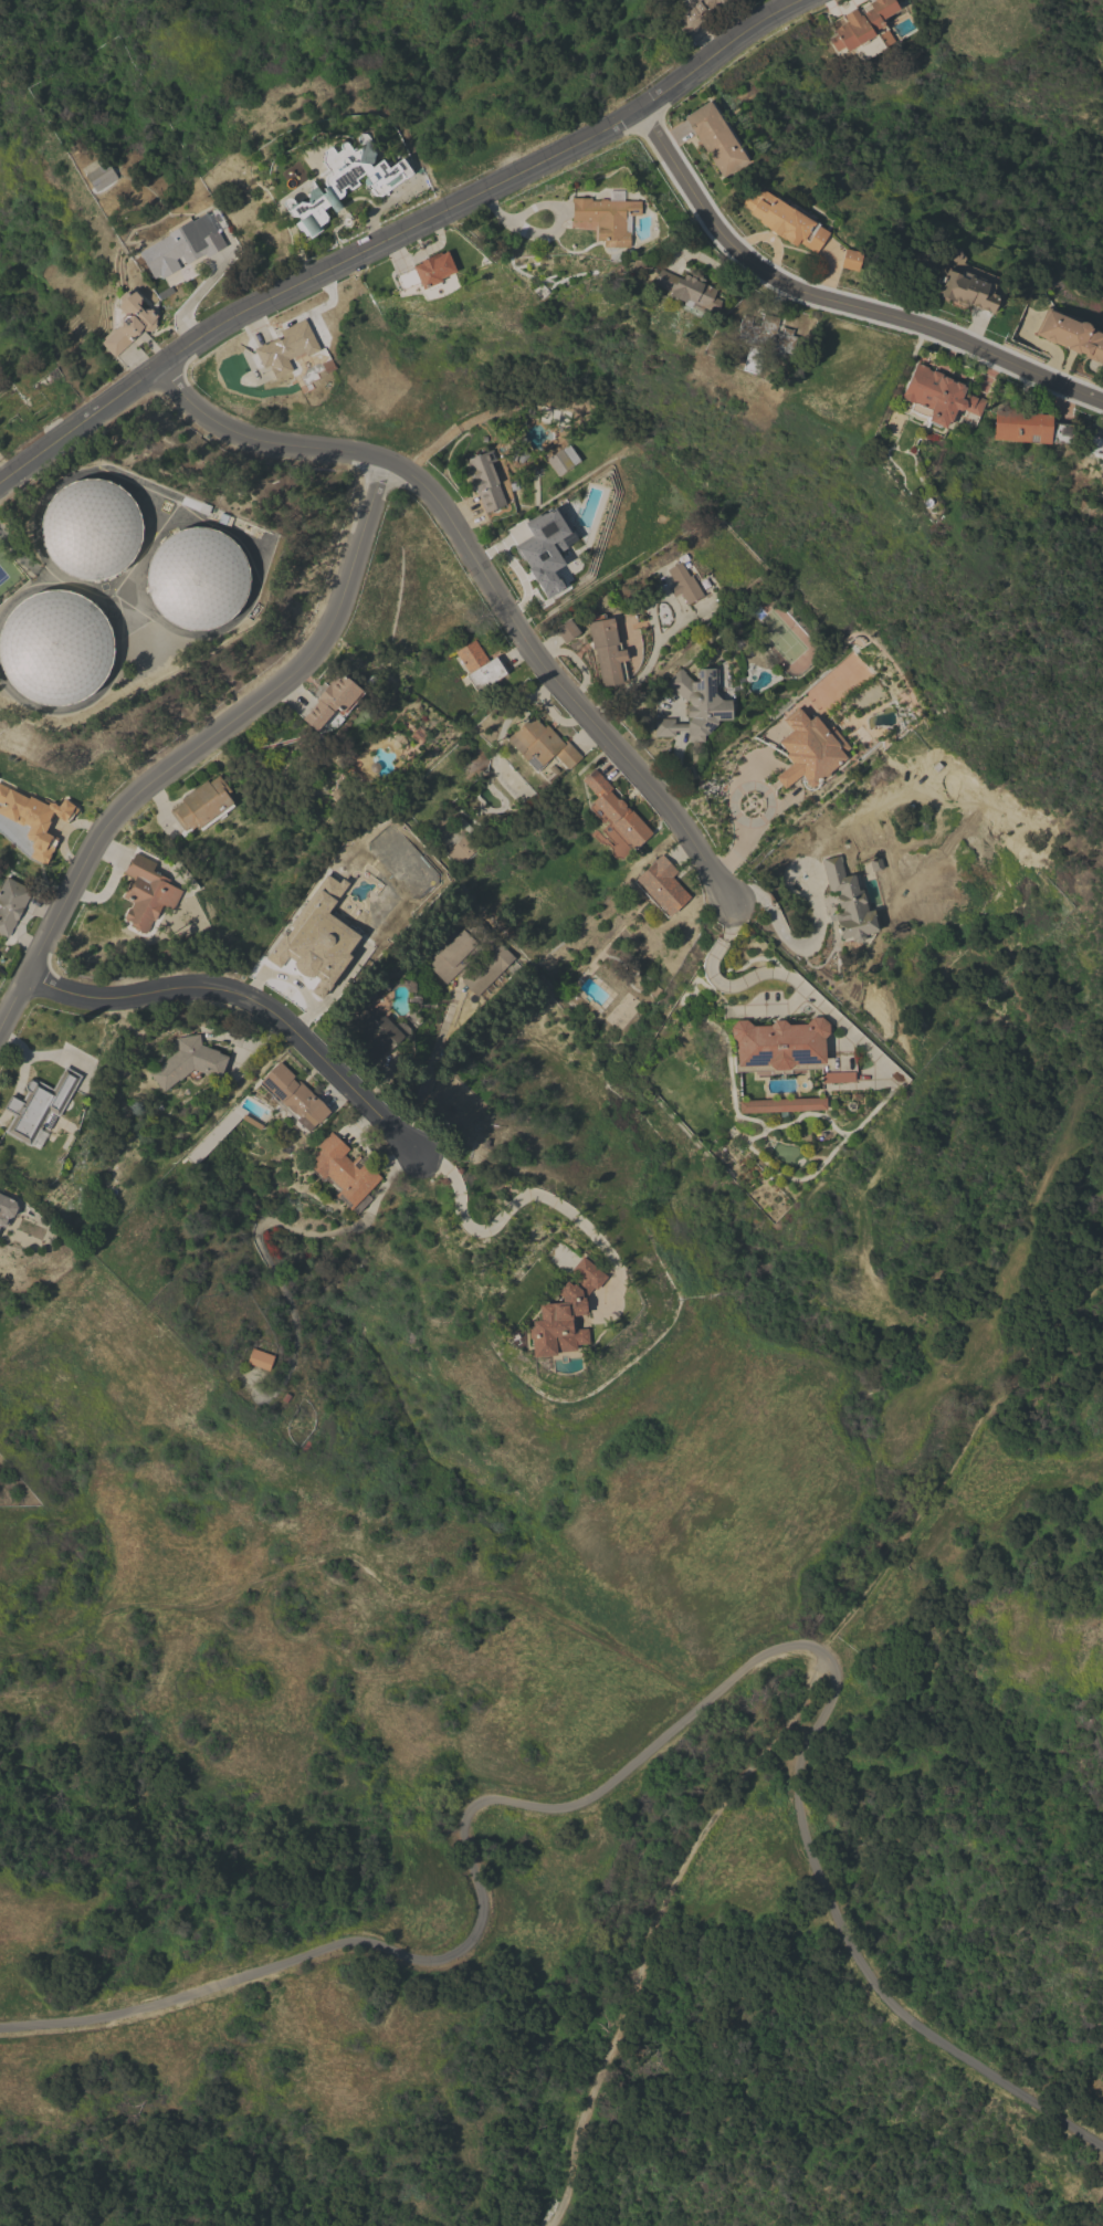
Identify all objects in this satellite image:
building: (695, 12)
building: (863, 30)
building: (715, 137)
building: (98, 175)
building: (344, 182)
road: (379, 207)
building: (606, 216)
building: (785, 219)
road: (550, 231)
road: (400, 235)
building: (178, 249)
building: (850, 259)
building: (427, 271)
building: (686, 288)
building: (966, 290)
road: (836, 305)
building: (127, 322)
building: (765, 333)
building: (1070, 334)
building: (285, 347)
building: (937, 395)
building: (1028, 427)
building: (1095, 445)
building: (563, 459)
building: (1102, 463)
building: (484, 480)
building: (90, 528)
building: (544, 548)
road: (484, 577)
building: (196, 578)
building: (683, 580)
building: (566, 630)
building: (54, 647)
building: (607, 649)
building: (480, 665)
building: (332, 702)
building: (695, 704)
building: (540, 744)
road: (199, 748)
building: (808, 748)
road: (733, 800)
building: (202, 805)
building: (614, 813)
building: (34, 818)
building: (461, 849)
building: (661, 885)
building: (146, 892)
building: (848, 902)
building: (11, 903)
building: (315, 938)
road: (795, 945)
building: (469, 958)
road: (777, 976)
building: (376, 988)
road: (252, 1002)
building: (374, 1030)
building: (790, 1049)
building: (188, 1061)
building: (293, 1095)
building: (781, 1104)
building: (38, 1106)
building: (344, 1172)
building: (6, 1209)
road: (510, 1212)
building: (564, 1313)
building: (260, 1358)
road: (660, 1743)

